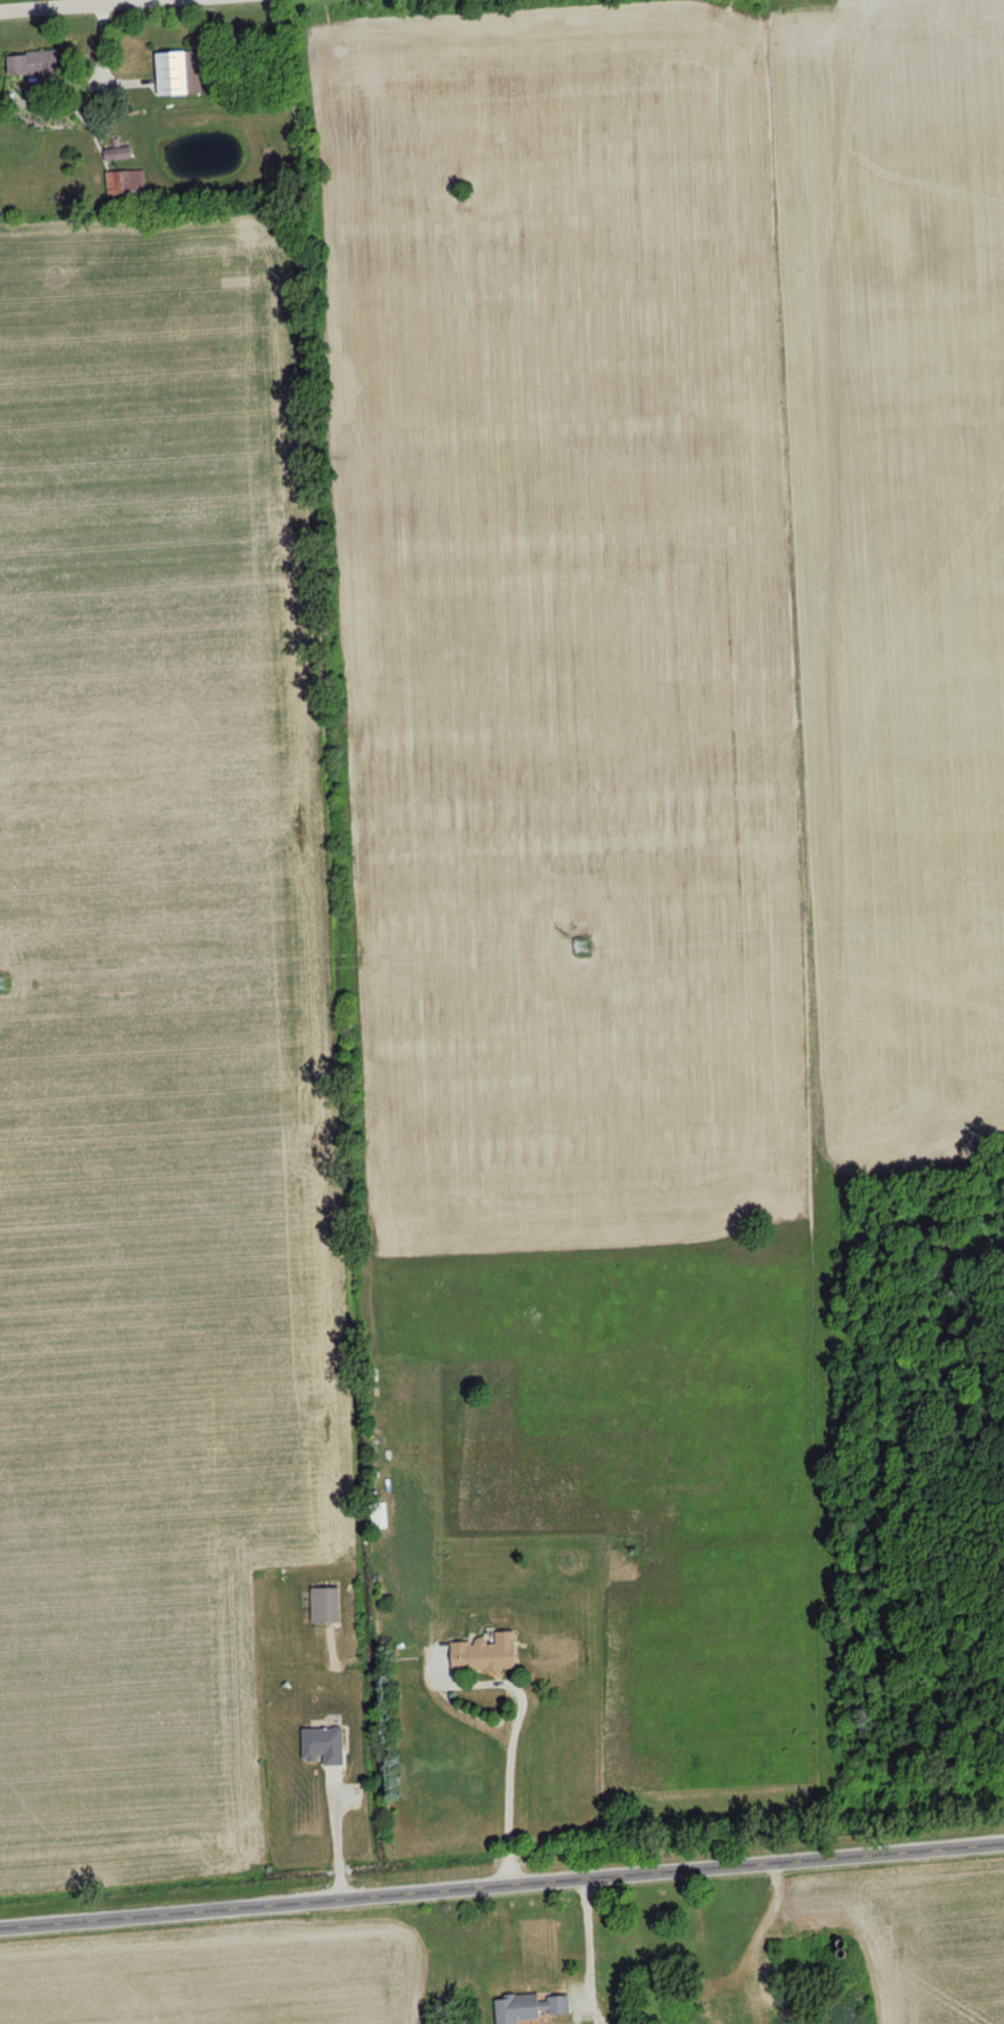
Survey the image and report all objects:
road: (96, 5)
building: (32, 63)
building: (177, 72)
building: (117, 153)
building: (125, 182)
power tower: (580, 942)
power tower: (1, 982)
building: (377, 1514)
building: (323, 1603)
building: (483, 1653)
road: (520, 1696)
building: (321, 1744)
road: (338, 1836)
road: (502, 1891)
road: (590, 1946)
building: (528, 2006)

